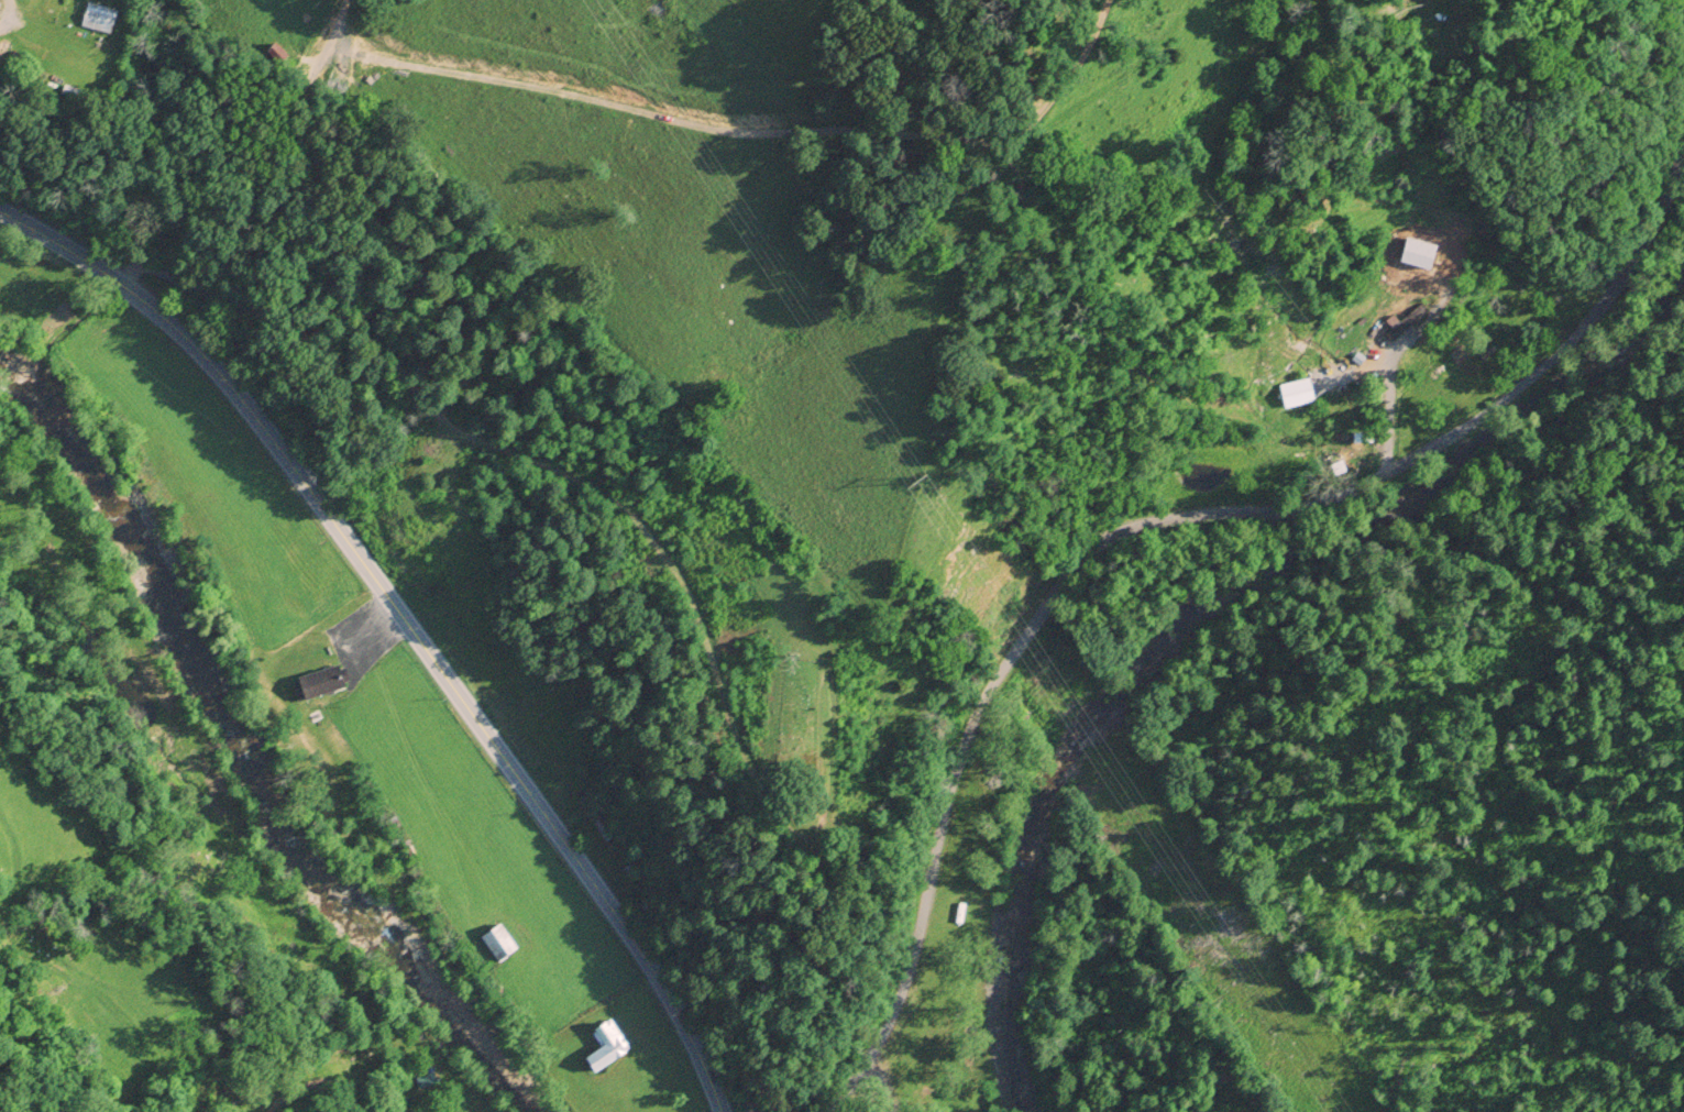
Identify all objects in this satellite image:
building: (97, 16)
building: (15, 65)
road: (747, 131)
road: (357, 273)
road: (302, 480)
road: (1157, 521)
parking lot: (361, 641)
building: (318, 683)
river: (240, 756)
building: (495, 945)
road: (642, 956)
building: (489, 988)
building: (970, 1037)
building: (603, 1047)
building: (665, 1077)

